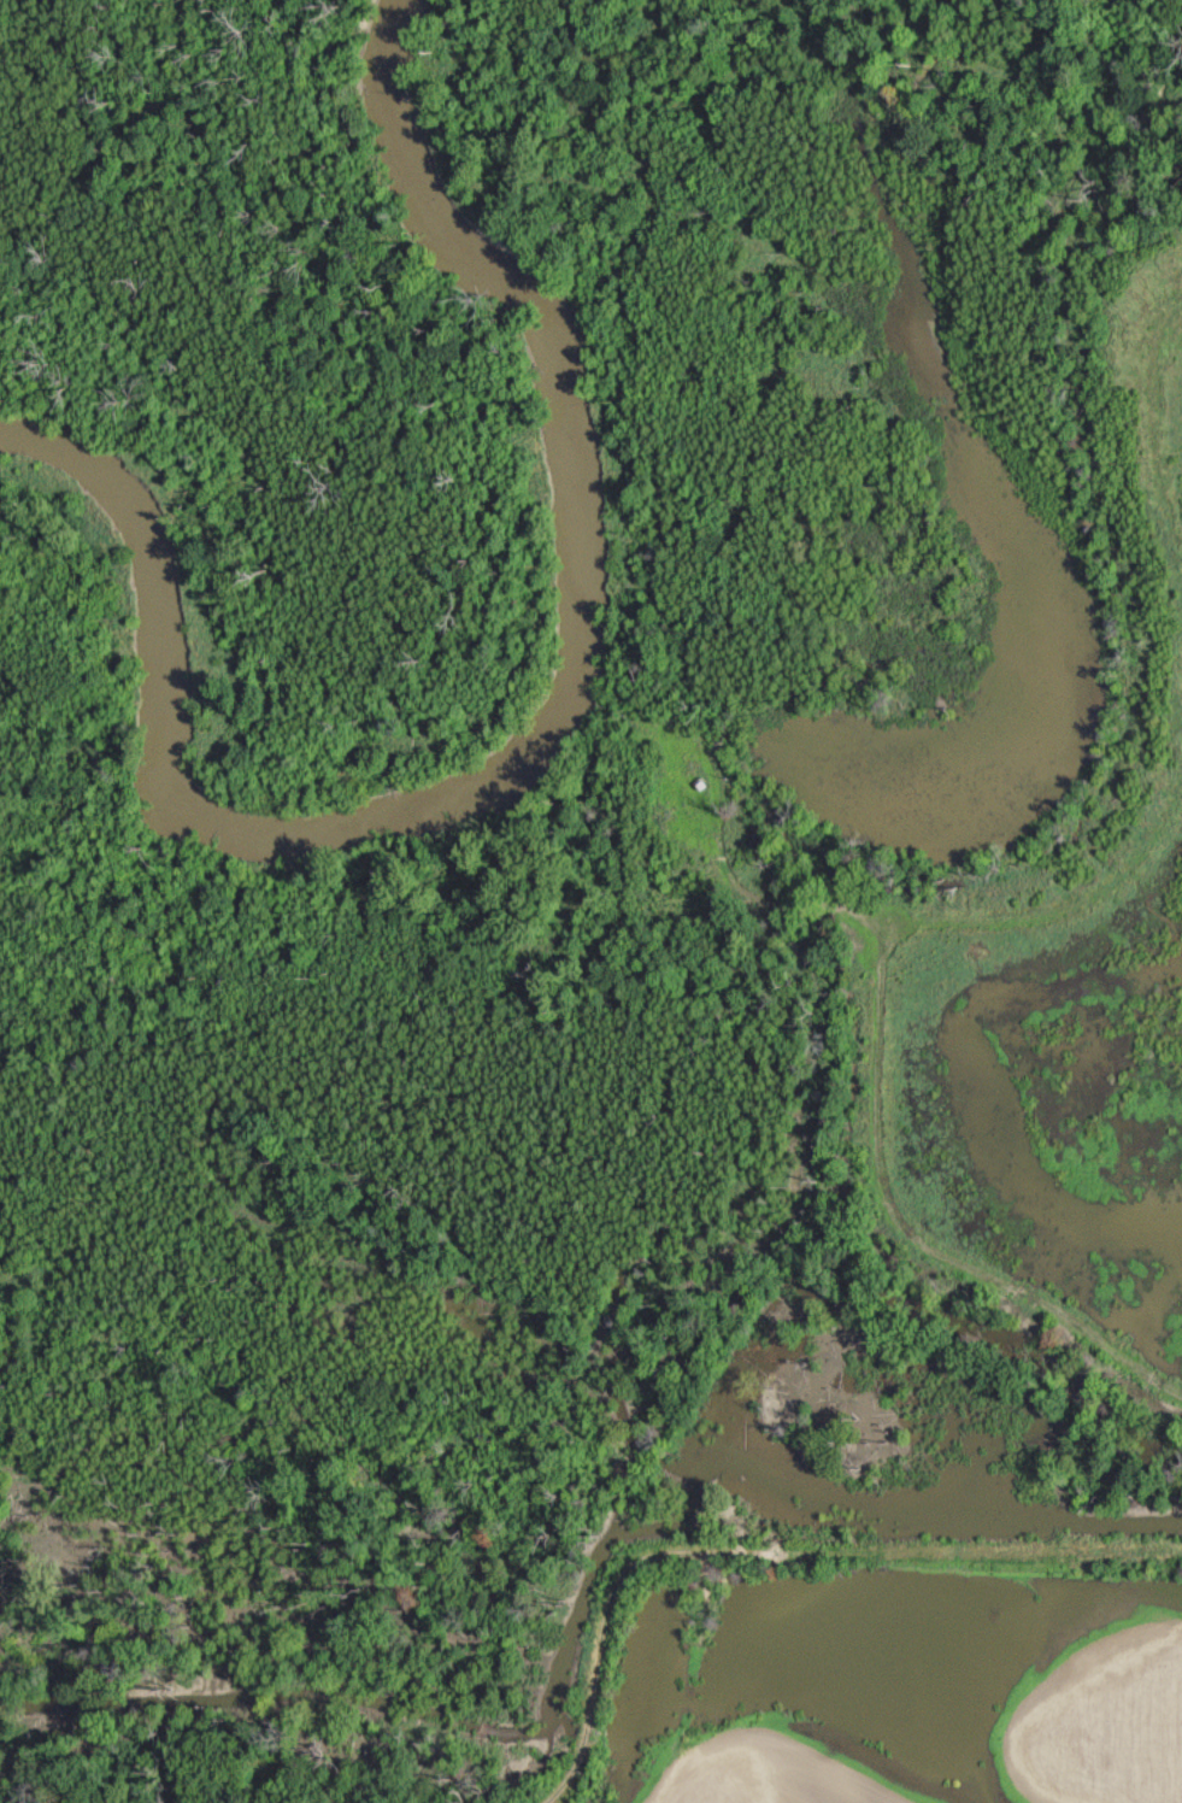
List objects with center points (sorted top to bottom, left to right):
road: (874, 1141)

